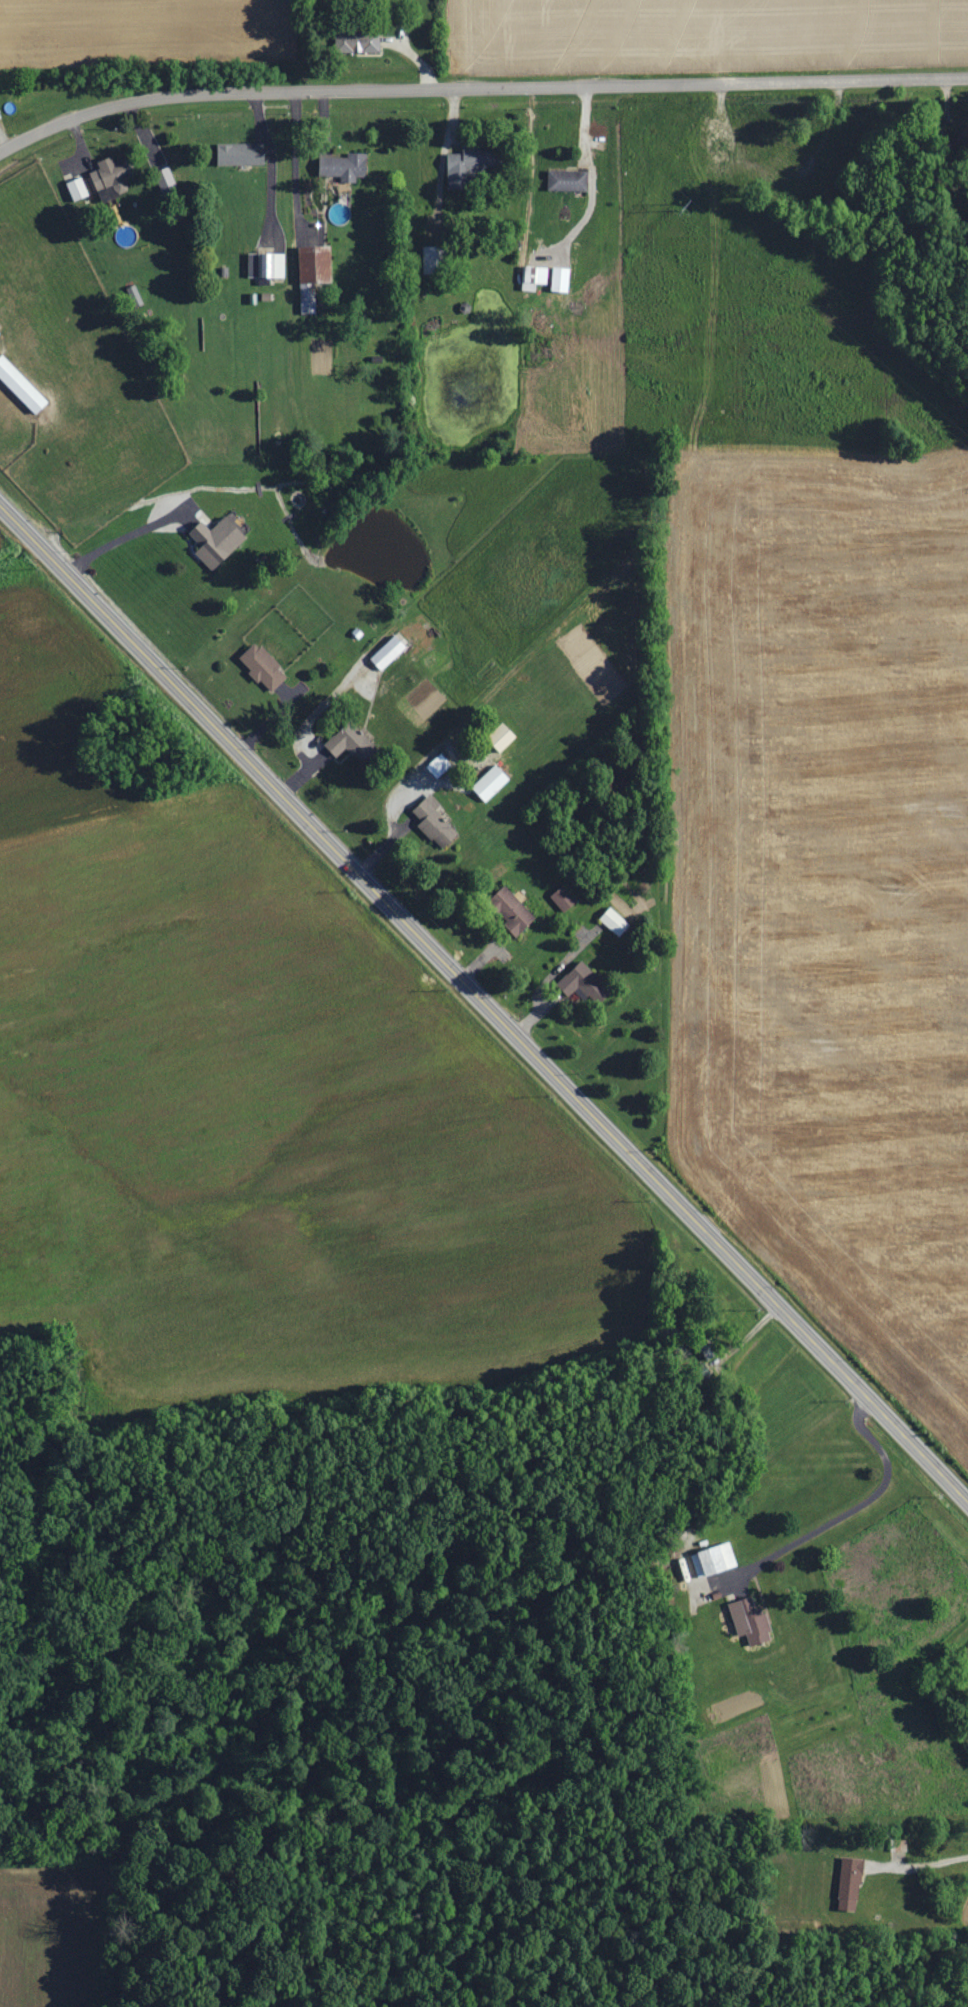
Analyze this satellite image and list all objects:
building: (357, 43)
road: (479, 87)
building: (241, 154)
road: (298, 164)
road: (268, 165)
building: (343, 166)
building: (458, 170)
building: (111, 175)
building: (165, 179)
building: (568, 180)
building: (77, 189)
building: (430, 259)
building: (266, 264)
building: (533, 276)
building: (134, 295)
building: (21, 385)
road: (122, 535)
building: (217, 539)
building: (388, 652)
building: (262, 666)
building: (349, 741)
building: (490, 782)
building: (434, 821)
building: (563, 898)
building: (511, 910)
building: (614, 921)
building: (580, 983)
road: (482, 1003)
road: (698, 1403)
building: (714, 1560)
building: (750, 1621)
road: (922, 1861)
building: (849, 1884)

